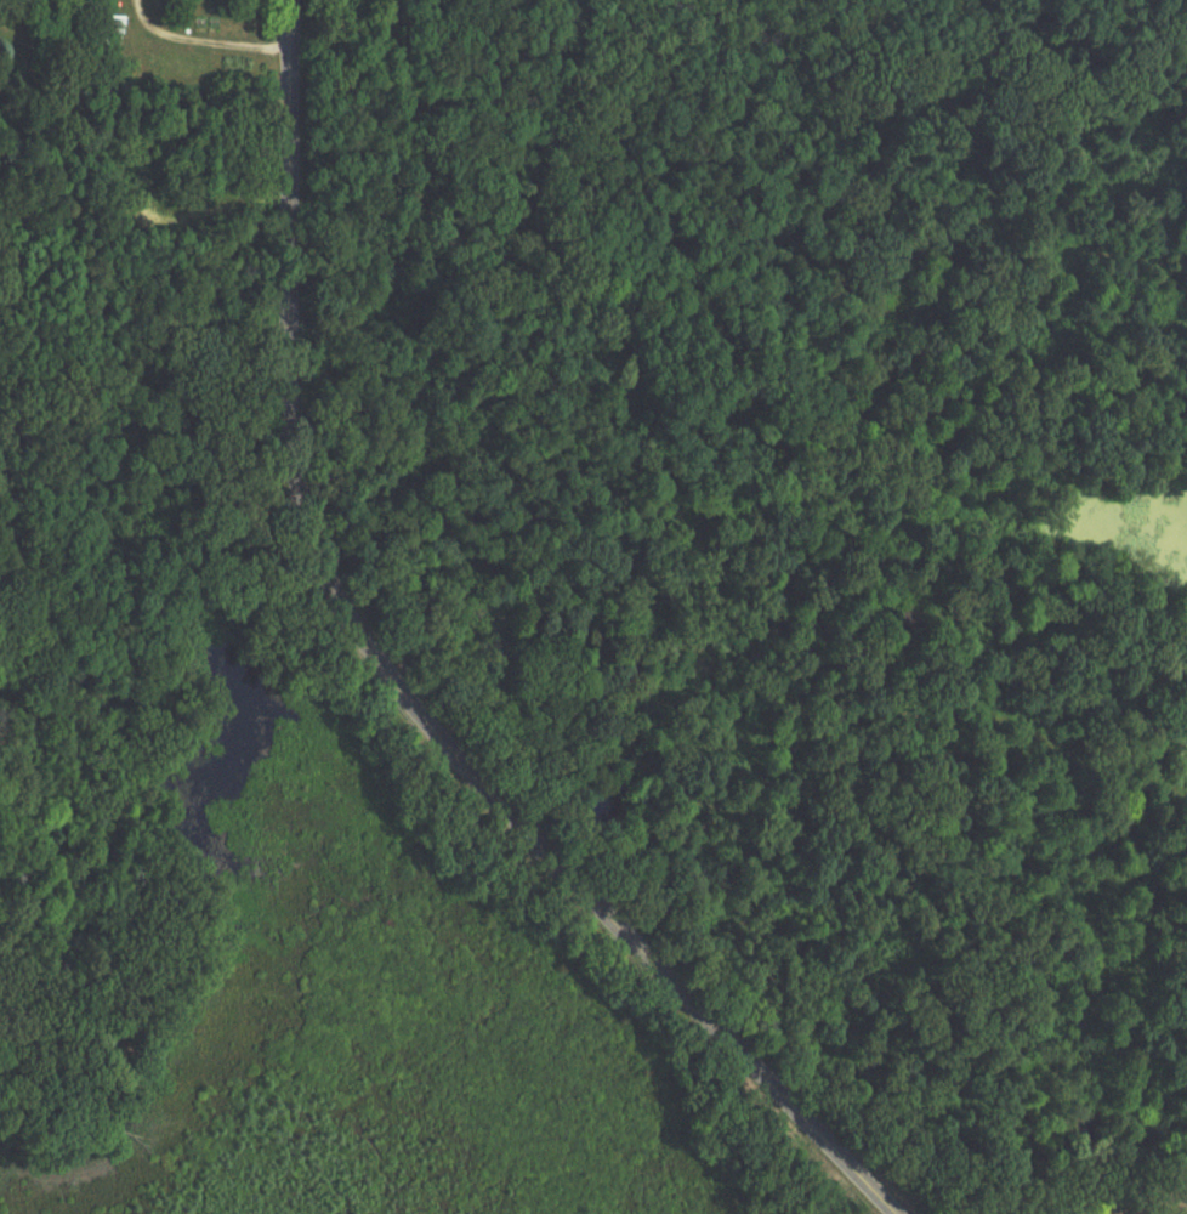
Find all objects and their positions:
building: (117, 25)
road: (204, 39)
road: (401, 688)
road: (1137, 1198)

